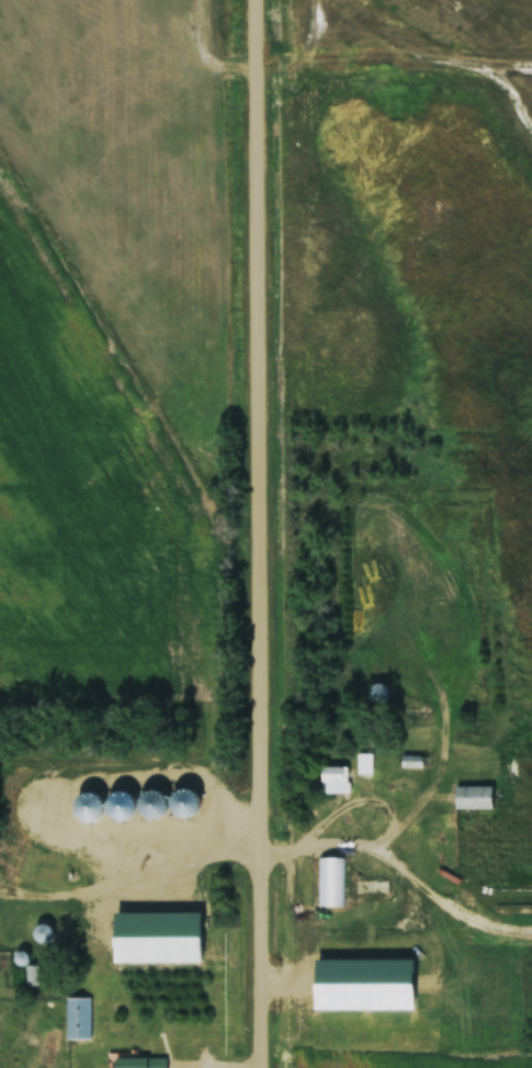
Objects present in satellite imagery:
road: (288, 533)
building: (378, 694)
building: (411, 763)
building: (364, 764)
building: (336, 780)
building: (475, 798)
building: (183, 803)
building: (438, 835)
building: (110, 855)
building: (440, 861)
building: (330, 884)
building: (43, 934)
building: (160, 938)
building: (32, 977)
building: (78, 1020)
building: (142, 1063)

